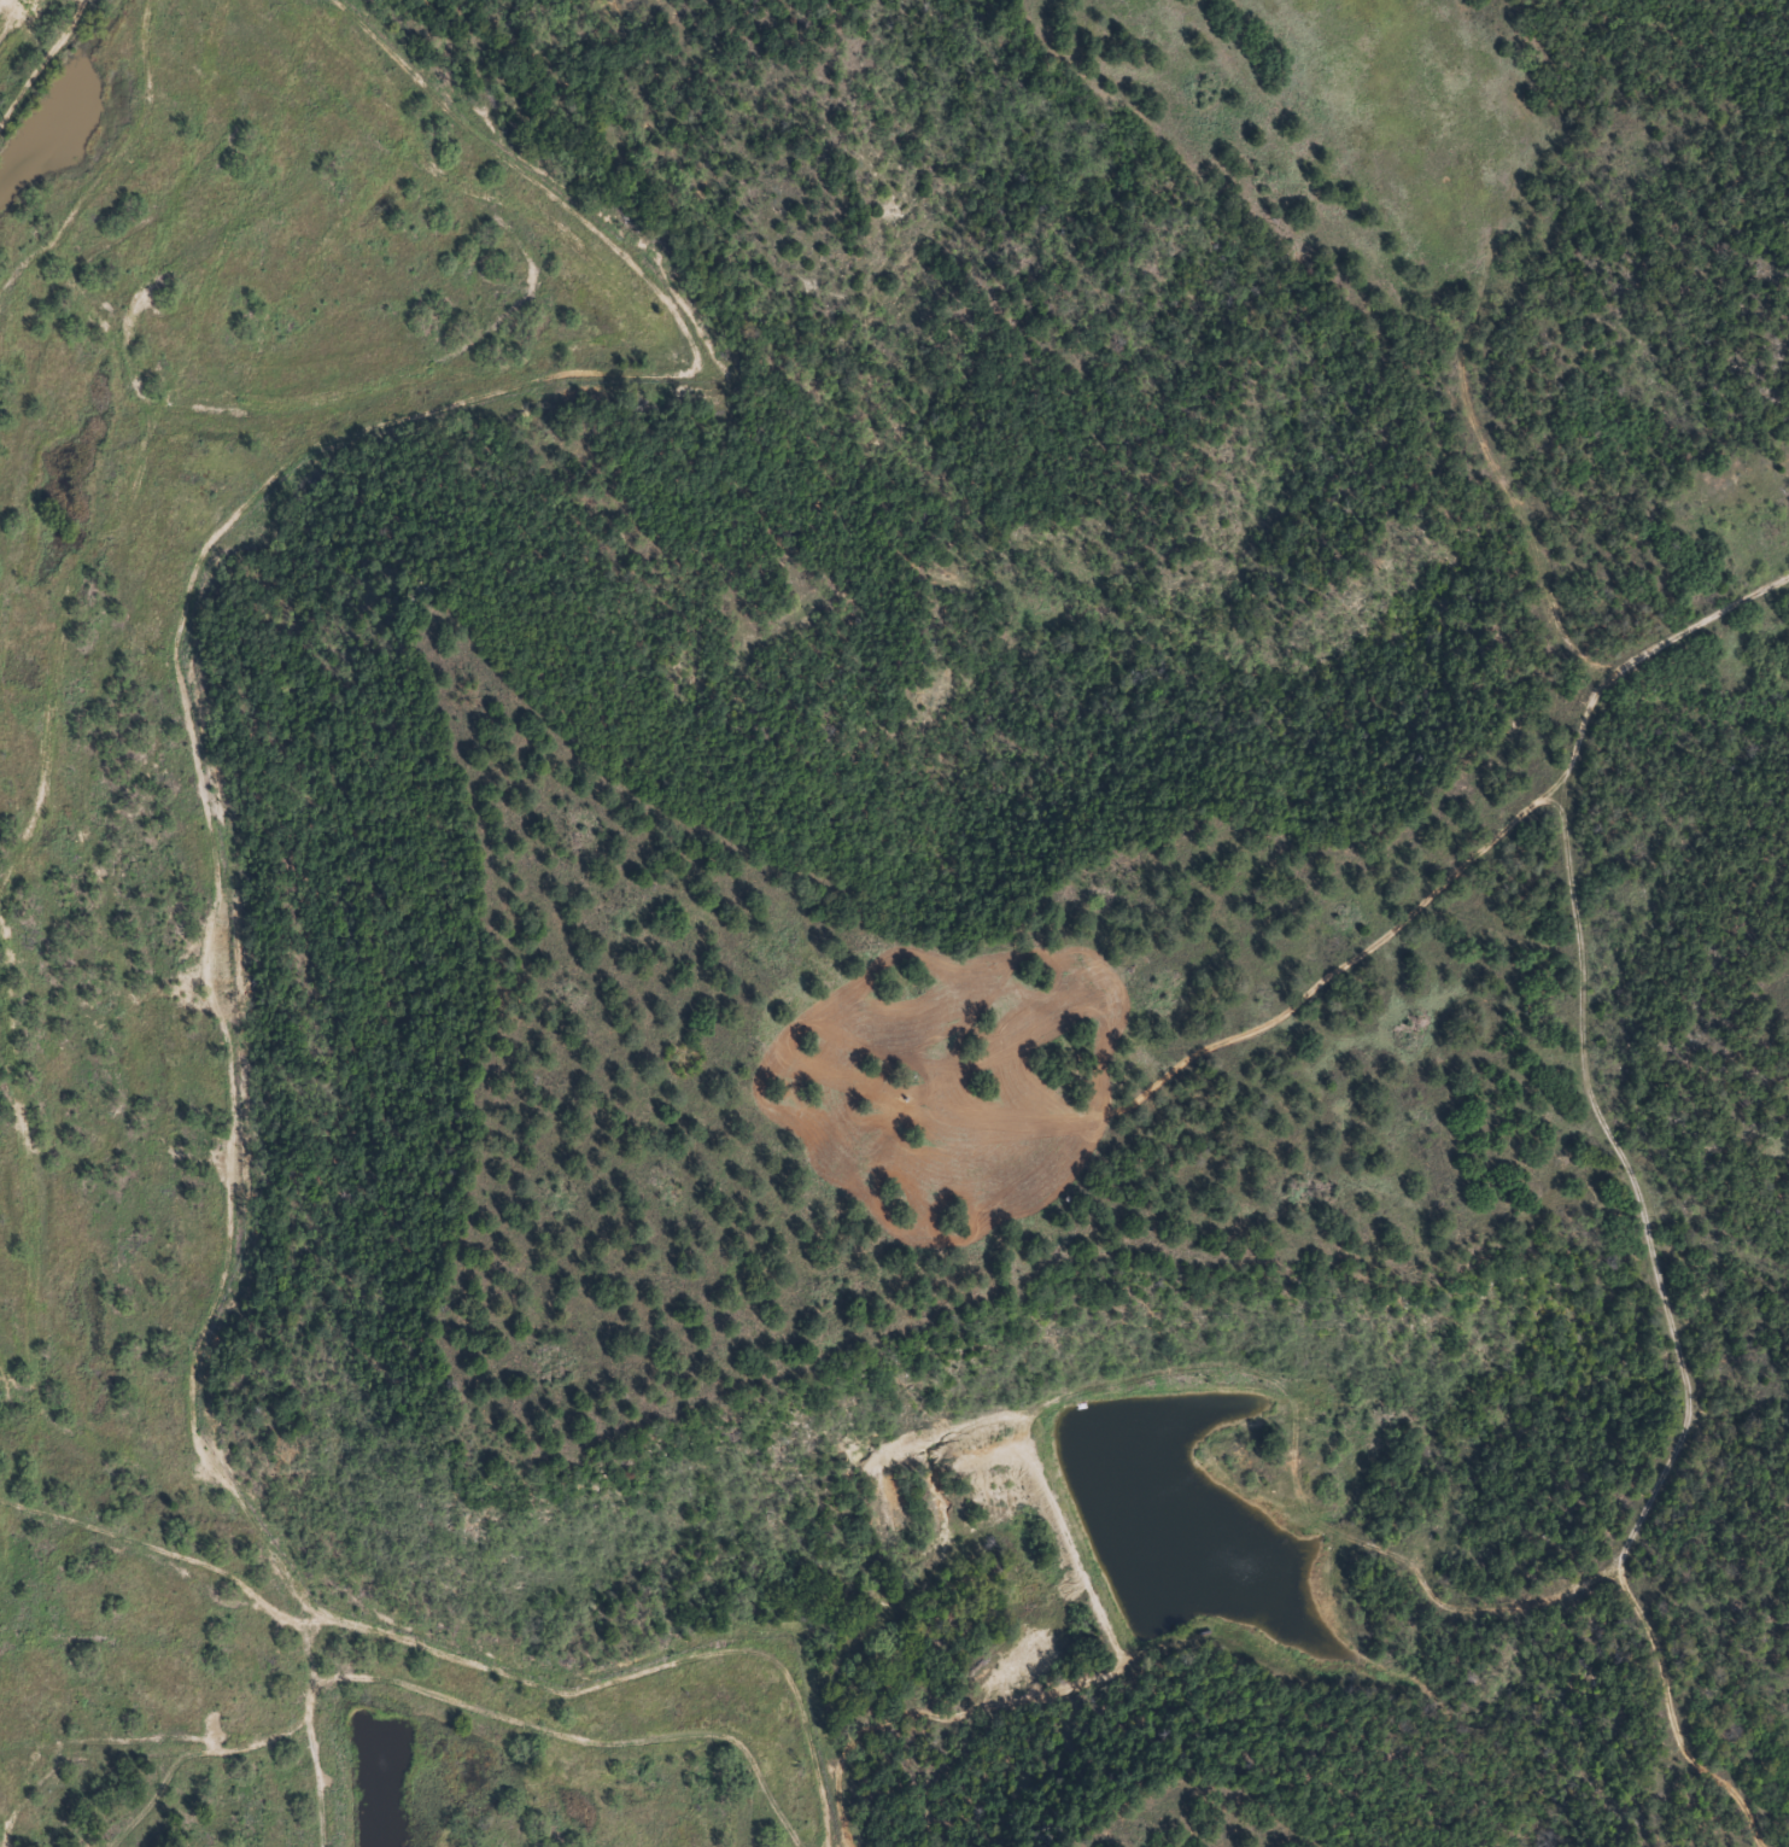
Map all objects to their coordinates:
road: (41, 60)
road: (1624, 1150)

